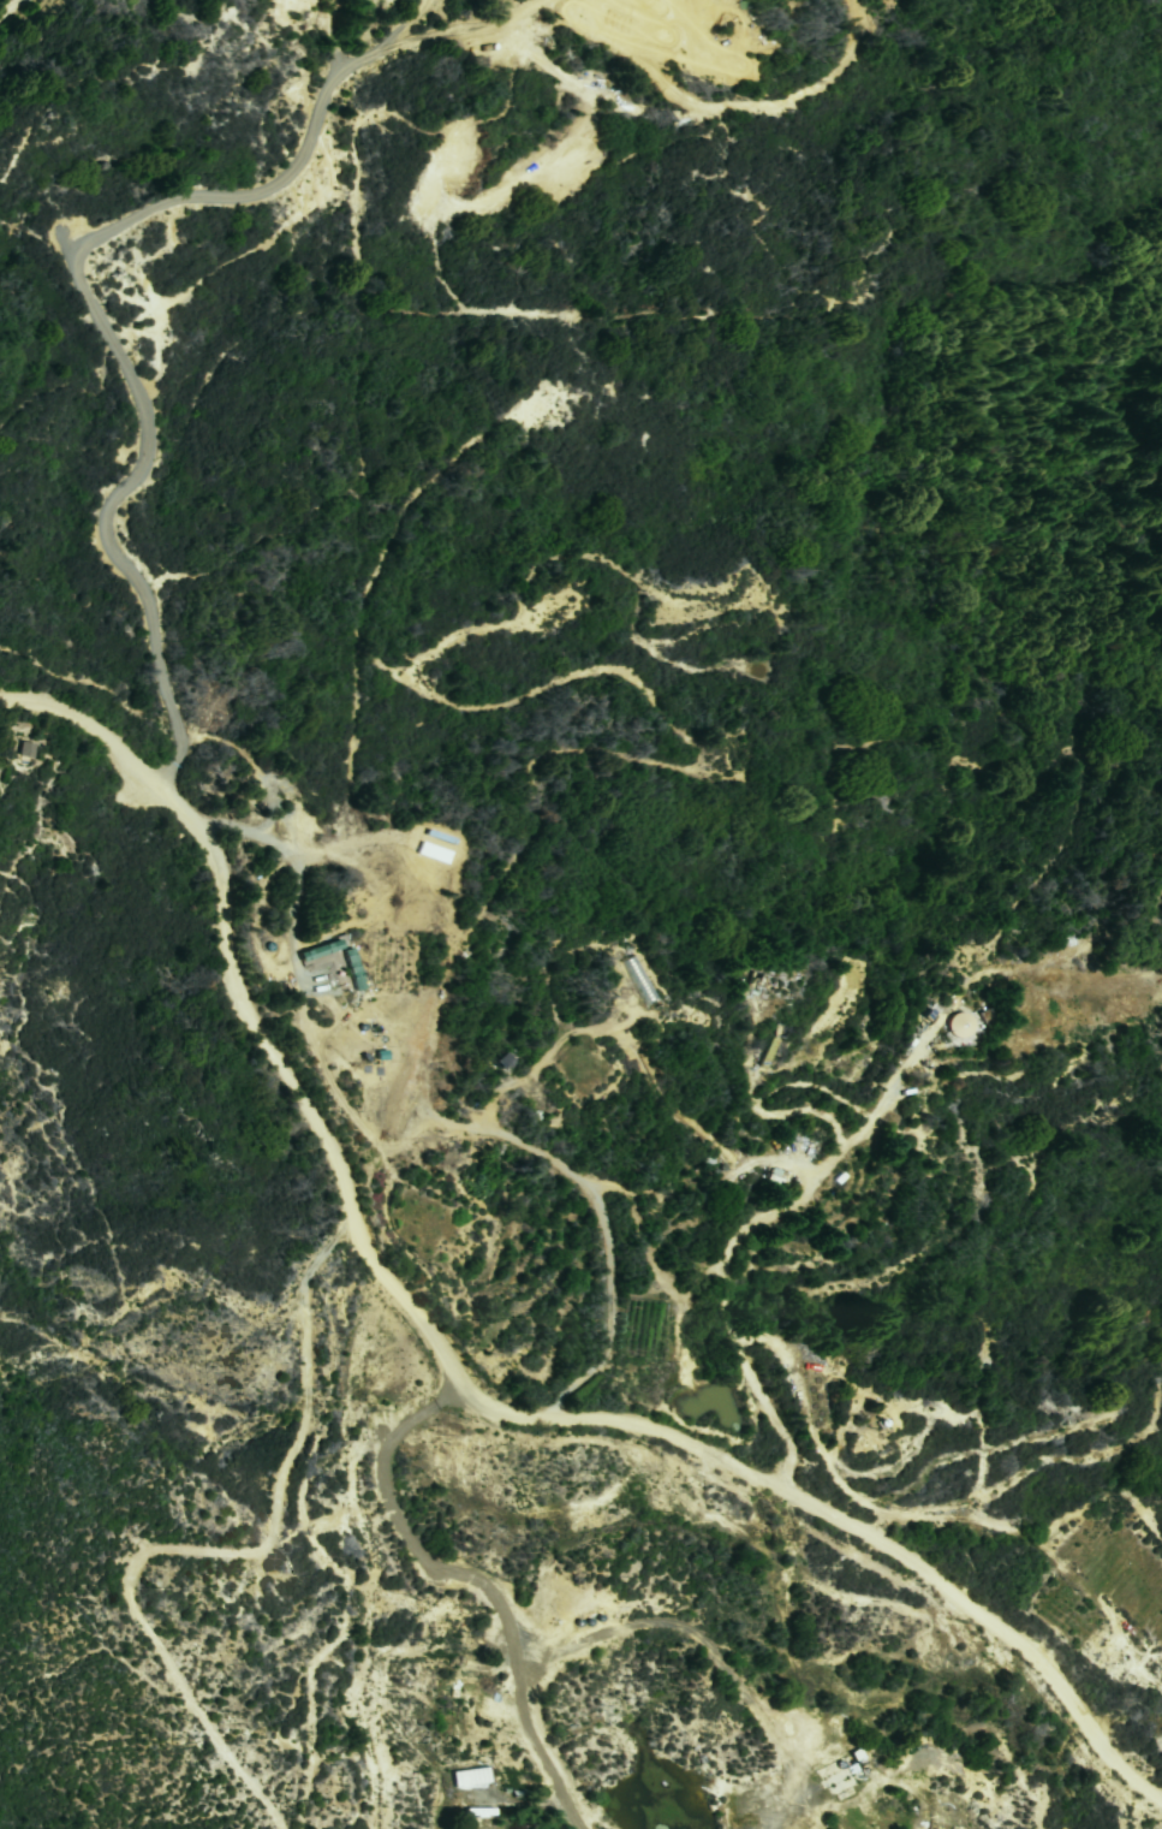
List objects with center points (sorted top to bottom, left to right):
road: (17, 12)
road: (514, 17)
road: (404, 18)
road: (322, 35)
road: (245, 195)
road: (61, 237)
road: (400, 503)
road: (598, 661)
building: (25, 749)
road: (279, 854)
road: (445, 918)
building: (321, 951)
building: (352, 970)
building: (332, 974)
water tower: (961, 1026)
road: (534, 1067)
road: (583, 1188)
road: (637, 1215)
road: (746, 1231)
crop: (639, 1330)
road: (457, 1371)
road: (945, 1519)
road: (477, 1582)
crop: (1108, 1586)
road: (714, 1652)
building: (840, 1772)
building: (465, 1775)
building: (932, 1824)

